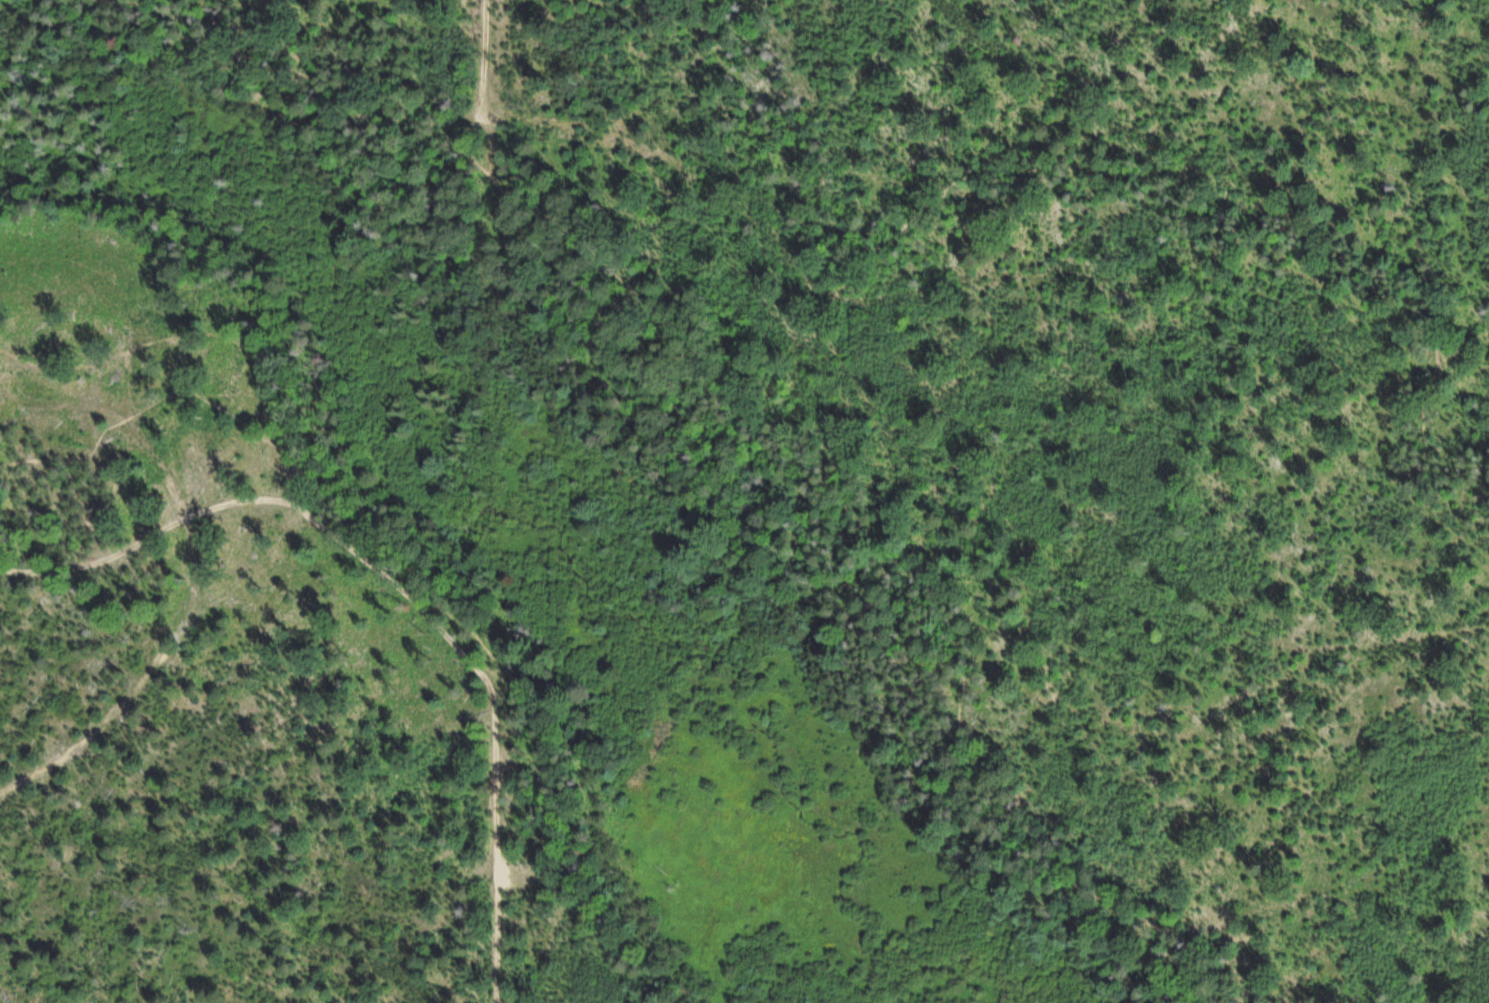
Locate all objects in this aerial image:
road: (485, 29)
road: (1123, 174)
road: (205, 333)
road: (136, 414)
road: (749, 442)
road: (958, 533)
road: (152, 535)
road: (425, 609)
road: (556, 846)
road: (499, 872)

